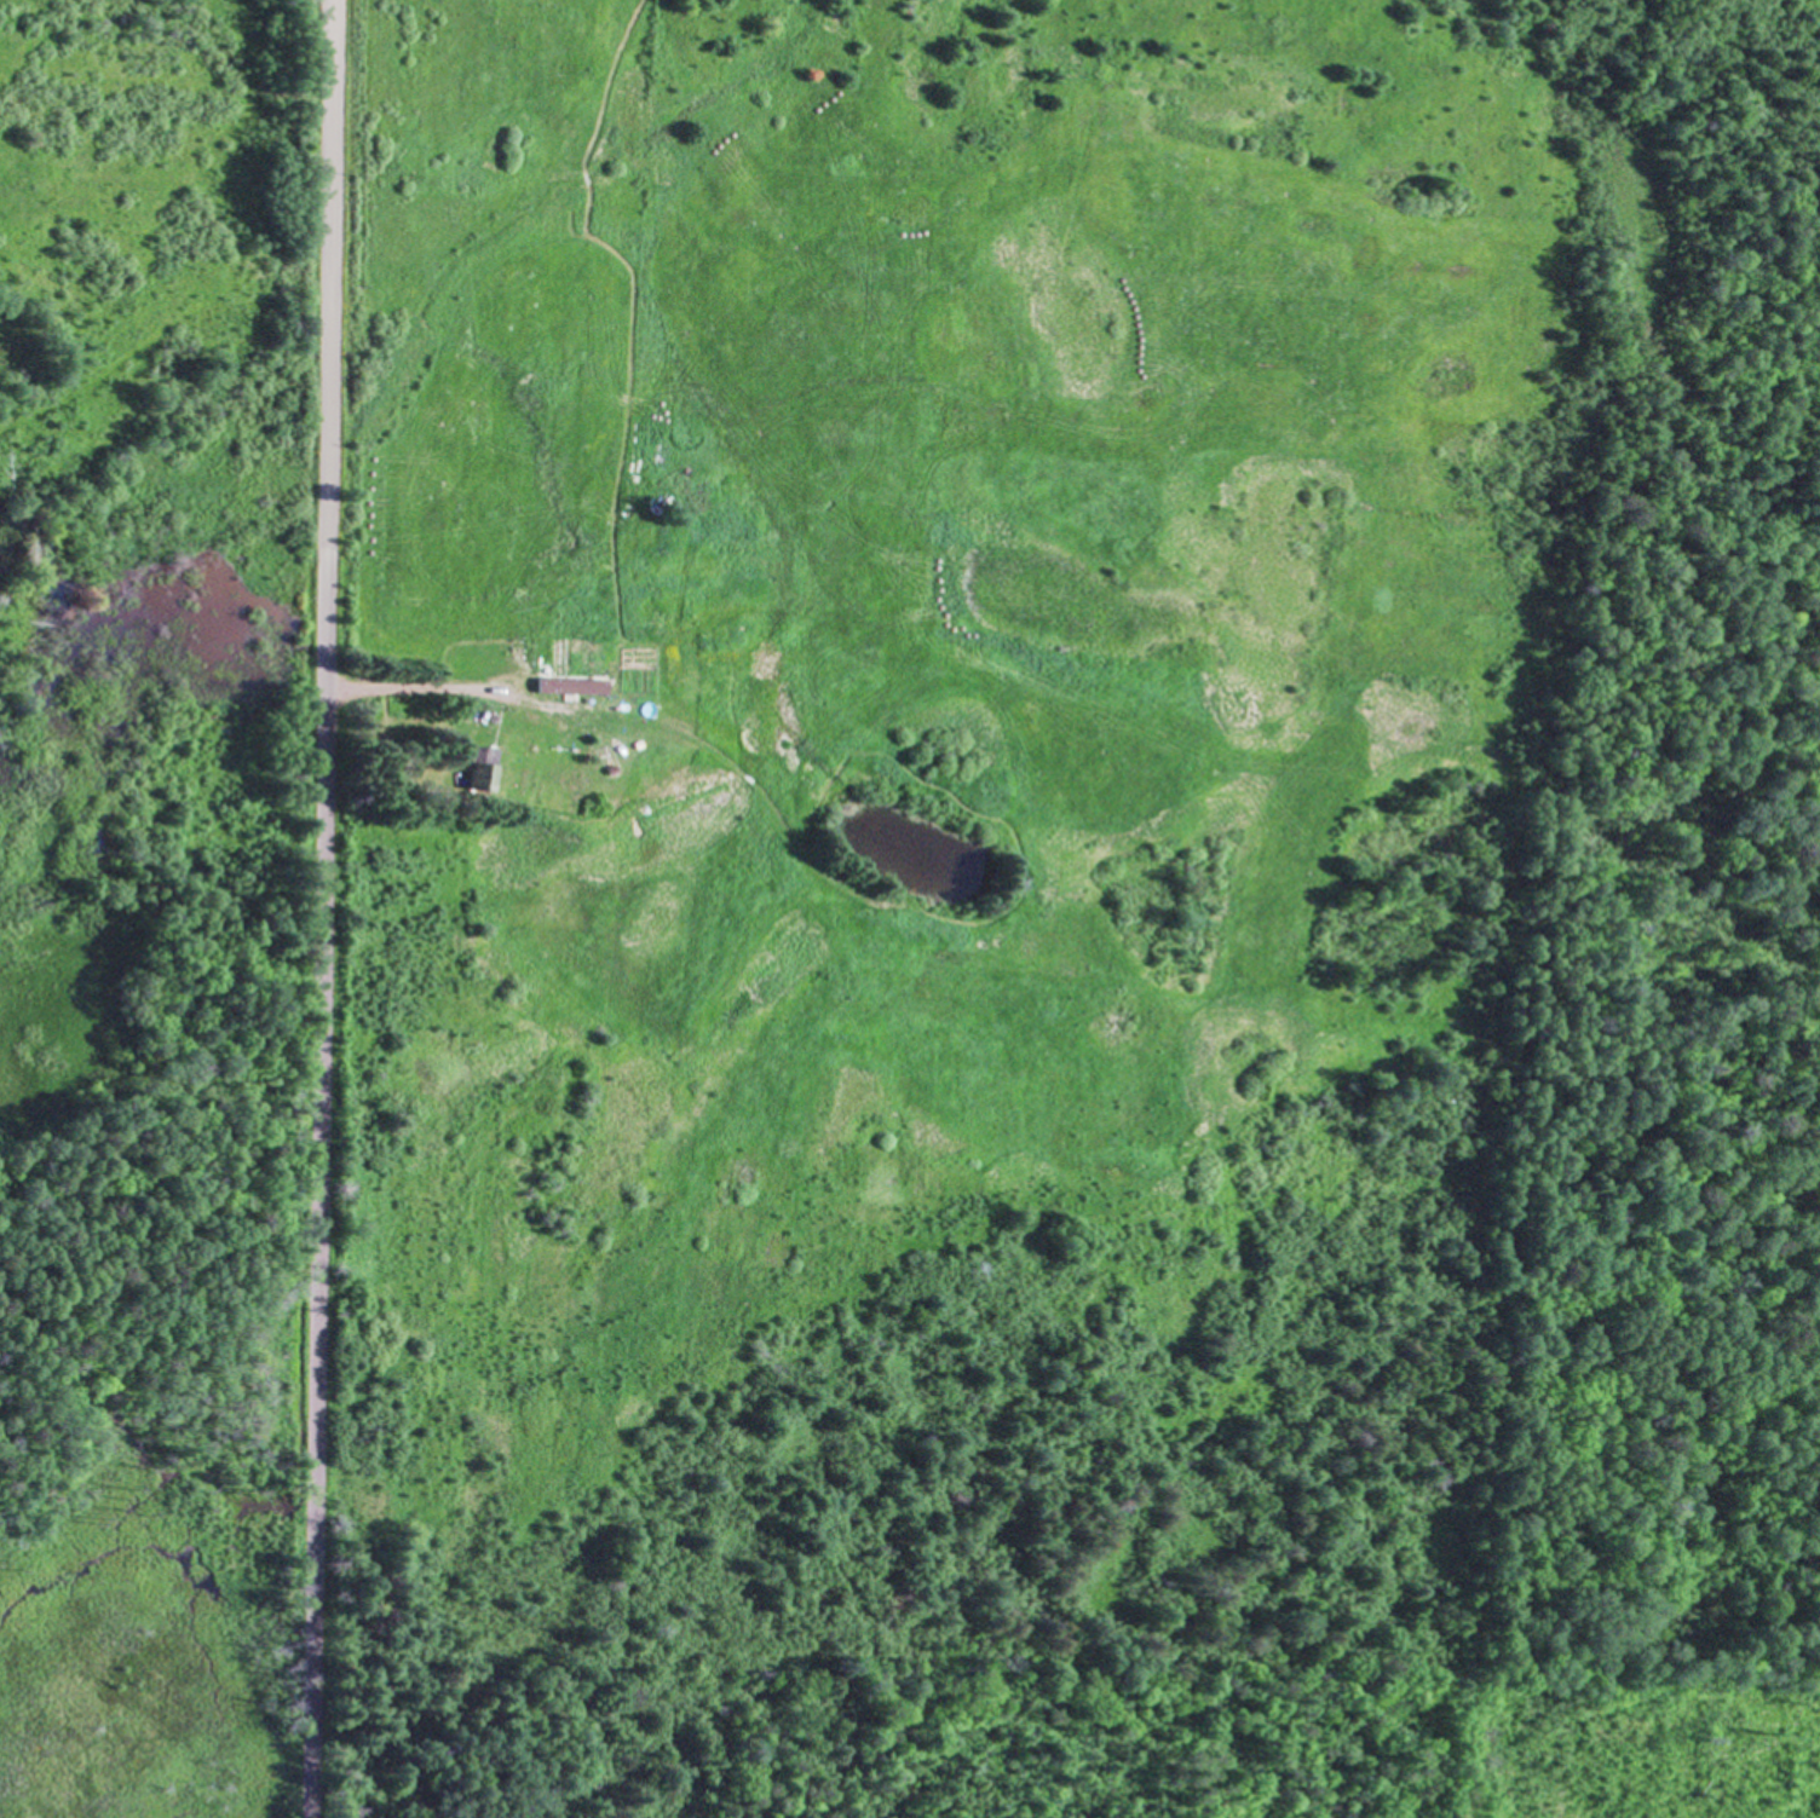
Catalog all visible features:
crop: (917, 716)
building: (482, 775)
road: (321, 908)

